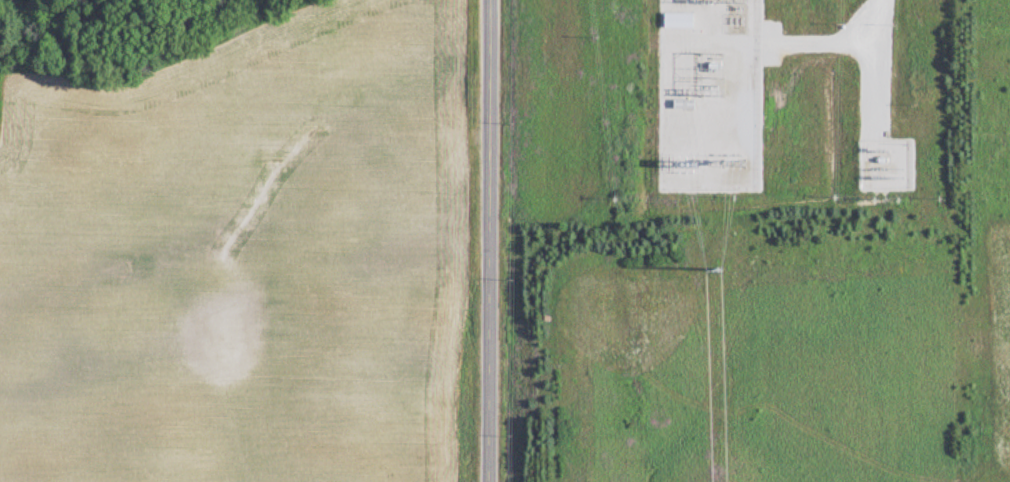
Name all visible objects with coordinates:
road: (810, 44)
road: (863, 70)
power substation: (709, 94)
power substation: (885, 164)
road: (485, 241)
power tower: (713, 272)

